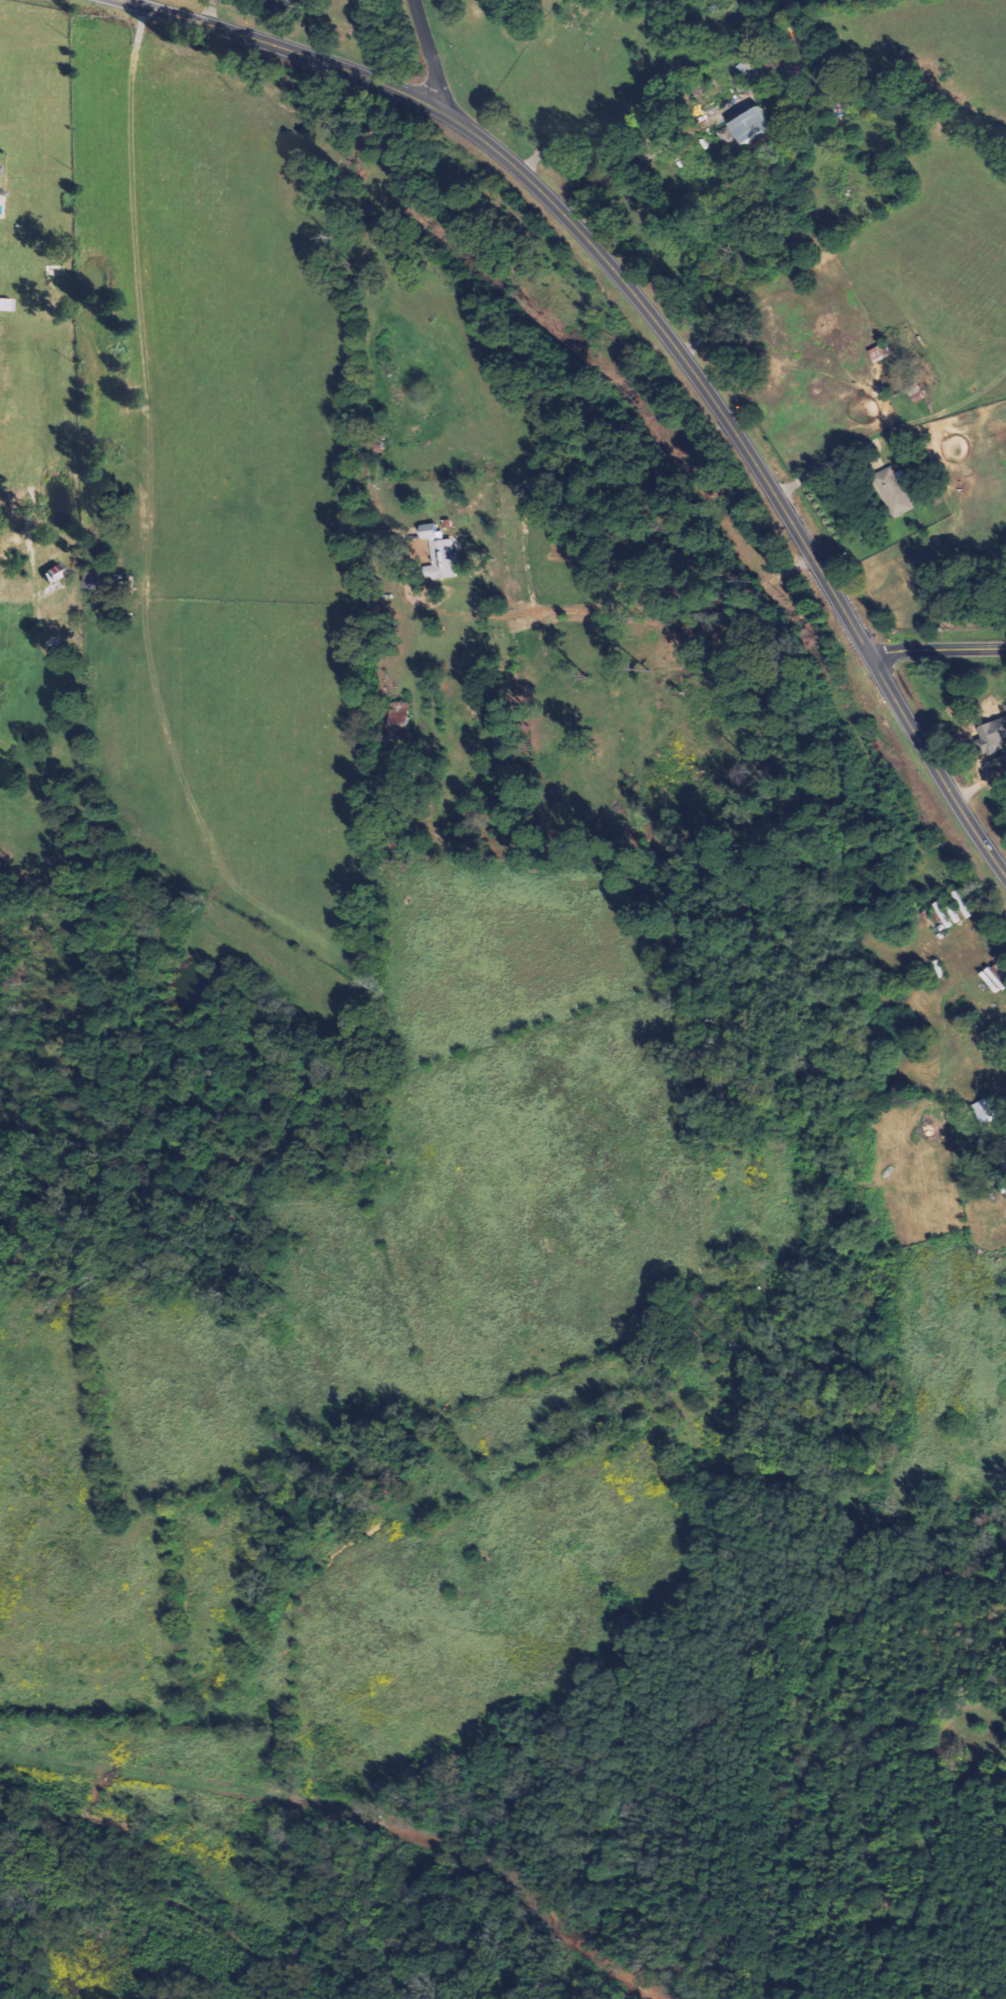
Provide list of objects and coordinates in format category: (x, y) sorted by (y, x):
road: (430, 52)
building: (747, 125)
road: (662, 332)
building: (892, 491)
building: (429, 531)
building: (442, 560)
building: (93, 580)
road: (937, 649)
building: (993, 734)
building: (994, 977)
building: (986, 1110)

